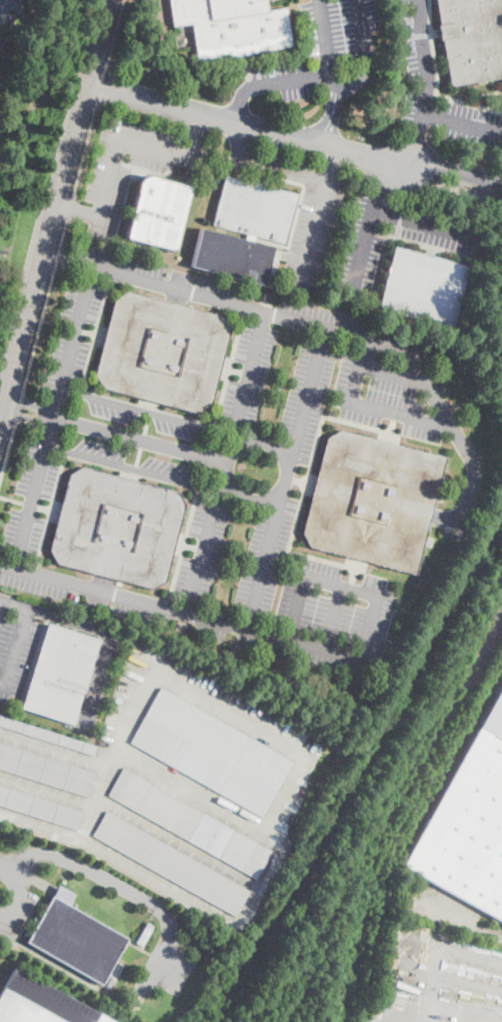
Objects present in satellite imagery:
building: (7, 8)
building: (232, 26)
building: (14, 28)
road: (1, 30)
building: (39, 31)
road: (116, 33)
building: (10, 38)
building: (0, 39)
road: (321, 39)
building: (471, 39)
parking lot: (326, 51)
road: (426, 64)
parking lot: (422, 71)
building: (2, 72)
road: (347, 82)
road: (103, 86)
road: (240, 100)
road: (332, 115)
road: (461, 123)
road: (245, 125)
road: (198, 134)
road: (116, 138)
road: (238, 140)
road: (413, 148)
road: (85, 152)
road: (332, 160)
road: (284, 166)
parking lot: (132, 167)
road: (455, 170)
road: (383, 179)
road: (52, 200)
building: (254, 208)
road: (74, 209)
road: (71, 210)
building: (157, 212)
parking lot: (308, 221)
road: (316, 223)
road: (425, 225)
road: (65, 232)
road: (364, 239)
parking lot: (458, 247)
road: (54, 254)
building: (231, 256)
road: (58, 257)
building: (423, 287)
building: (353, 300)
road: (55, 324)
road: (39, 330)
road: (340, 331)
building: (162, 351)
road: (367, 351)
parking lot: (252, 361)
road: (248, 372)
road: (352, 401)
road: (29, 402)
road: (19, 407)
road: (146, 411)
road: (54, 416)
road: (27, 418)
road: (141, 439)
road: (234, 440)
road: (8, 452)
road: (132, 466)
road: (285, 478)
road: (224, 484)
road: (252, 498)
road: (12, 500)
building: (373, 501)
building: (117, 528)
road: (202, 550)
parking lot: (212, 565)
road: (374, 592)
road: (0, 602)
road: (297, 608)
road: (181, 611)
road: (53, 617)
road: (334, 617)
road: (16, 650)
parking lot: (16, 652)
building: (60, 674)
parking lot: (99, 679)
road: (93, 681)
road: (186, 687)
parking lot: (241, 711)
building: (47, 735)
road: (51, 747)
building: (212, 749)
railway: (359, 767)
railway: (451, 767)
building: (45, 770)
road: (45, 791)
road: (198, 792)
building: (40, 807)
railway: (393, 807)
railway: (403, 817)
building: (189, 823)
building: (469, 824)
road: (122, 860)
building: (171, 863)
road: (96, 873)
road: (260, 884)
road: (17, 895)
railway: (370, 896)
parking lot: (441, 906)
parking lot: (17, 912)
road: (456, 920)
building: (144, 933)
building: (77, 937)
railway: (248, 950)
road: (442, 953)
road: (154, 966)
parking lot: (170, 967)
road: (470, 983)
building: (39, 1003)
railway: (348, 1009)
road: (434, 1014)

